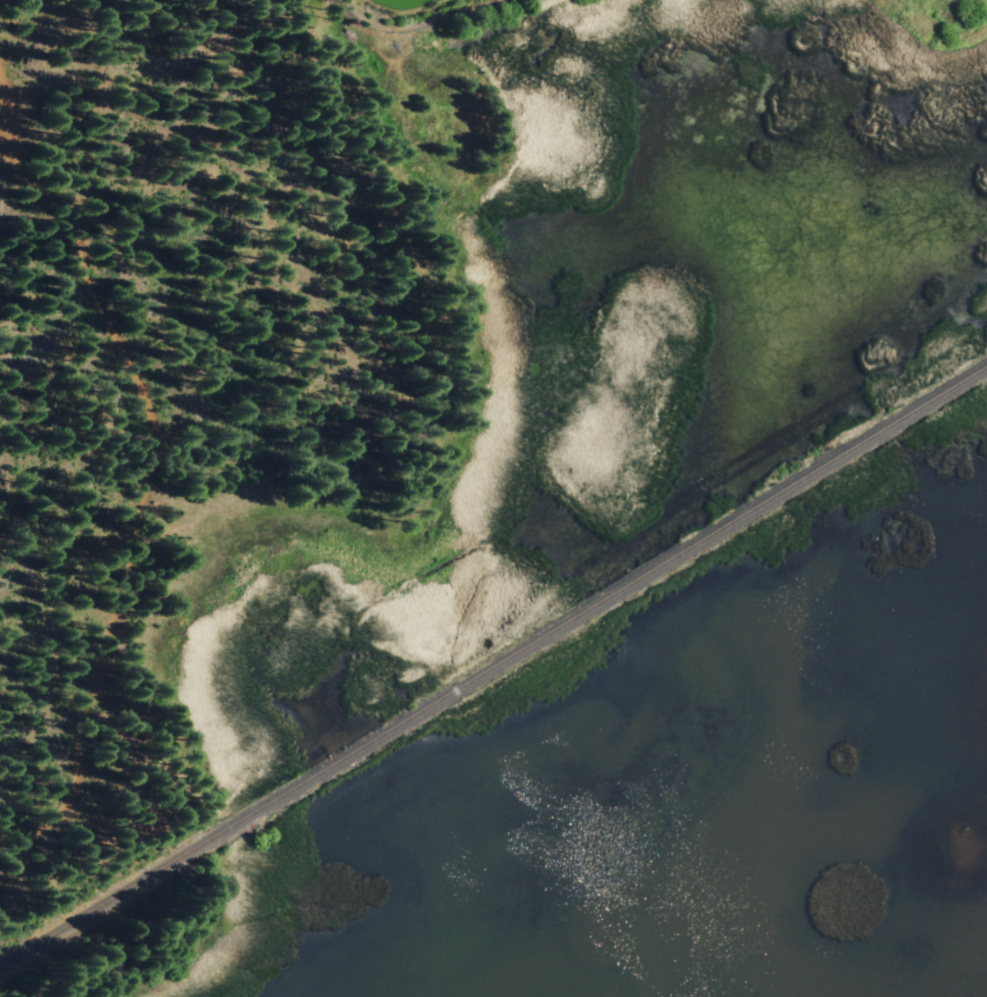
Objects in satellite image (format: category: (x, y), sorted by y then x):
road: (152, 465)
railway: (493, 669)

